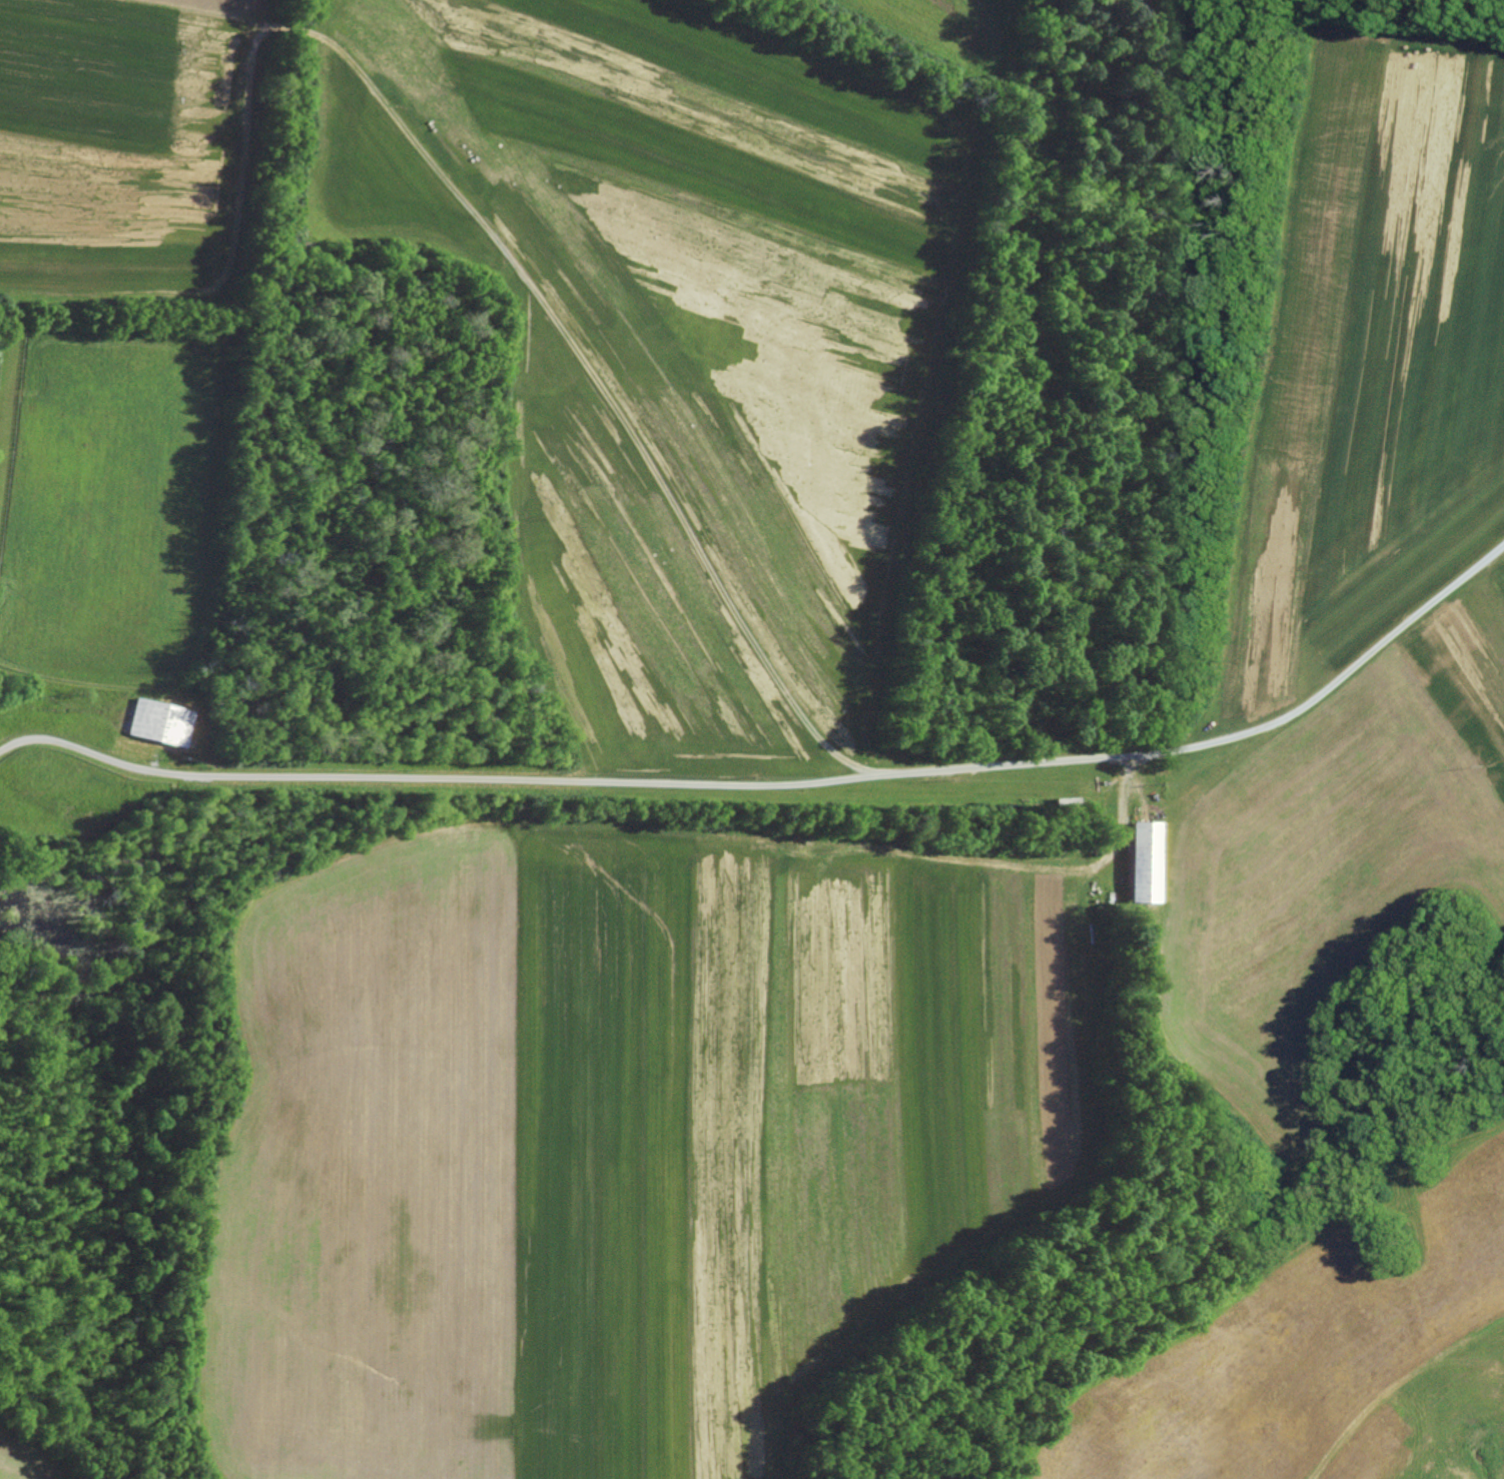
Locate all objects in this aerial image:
building: (161, 722)
road: (781, 786)
road: (1120, 814)
building: (1141, 862)

